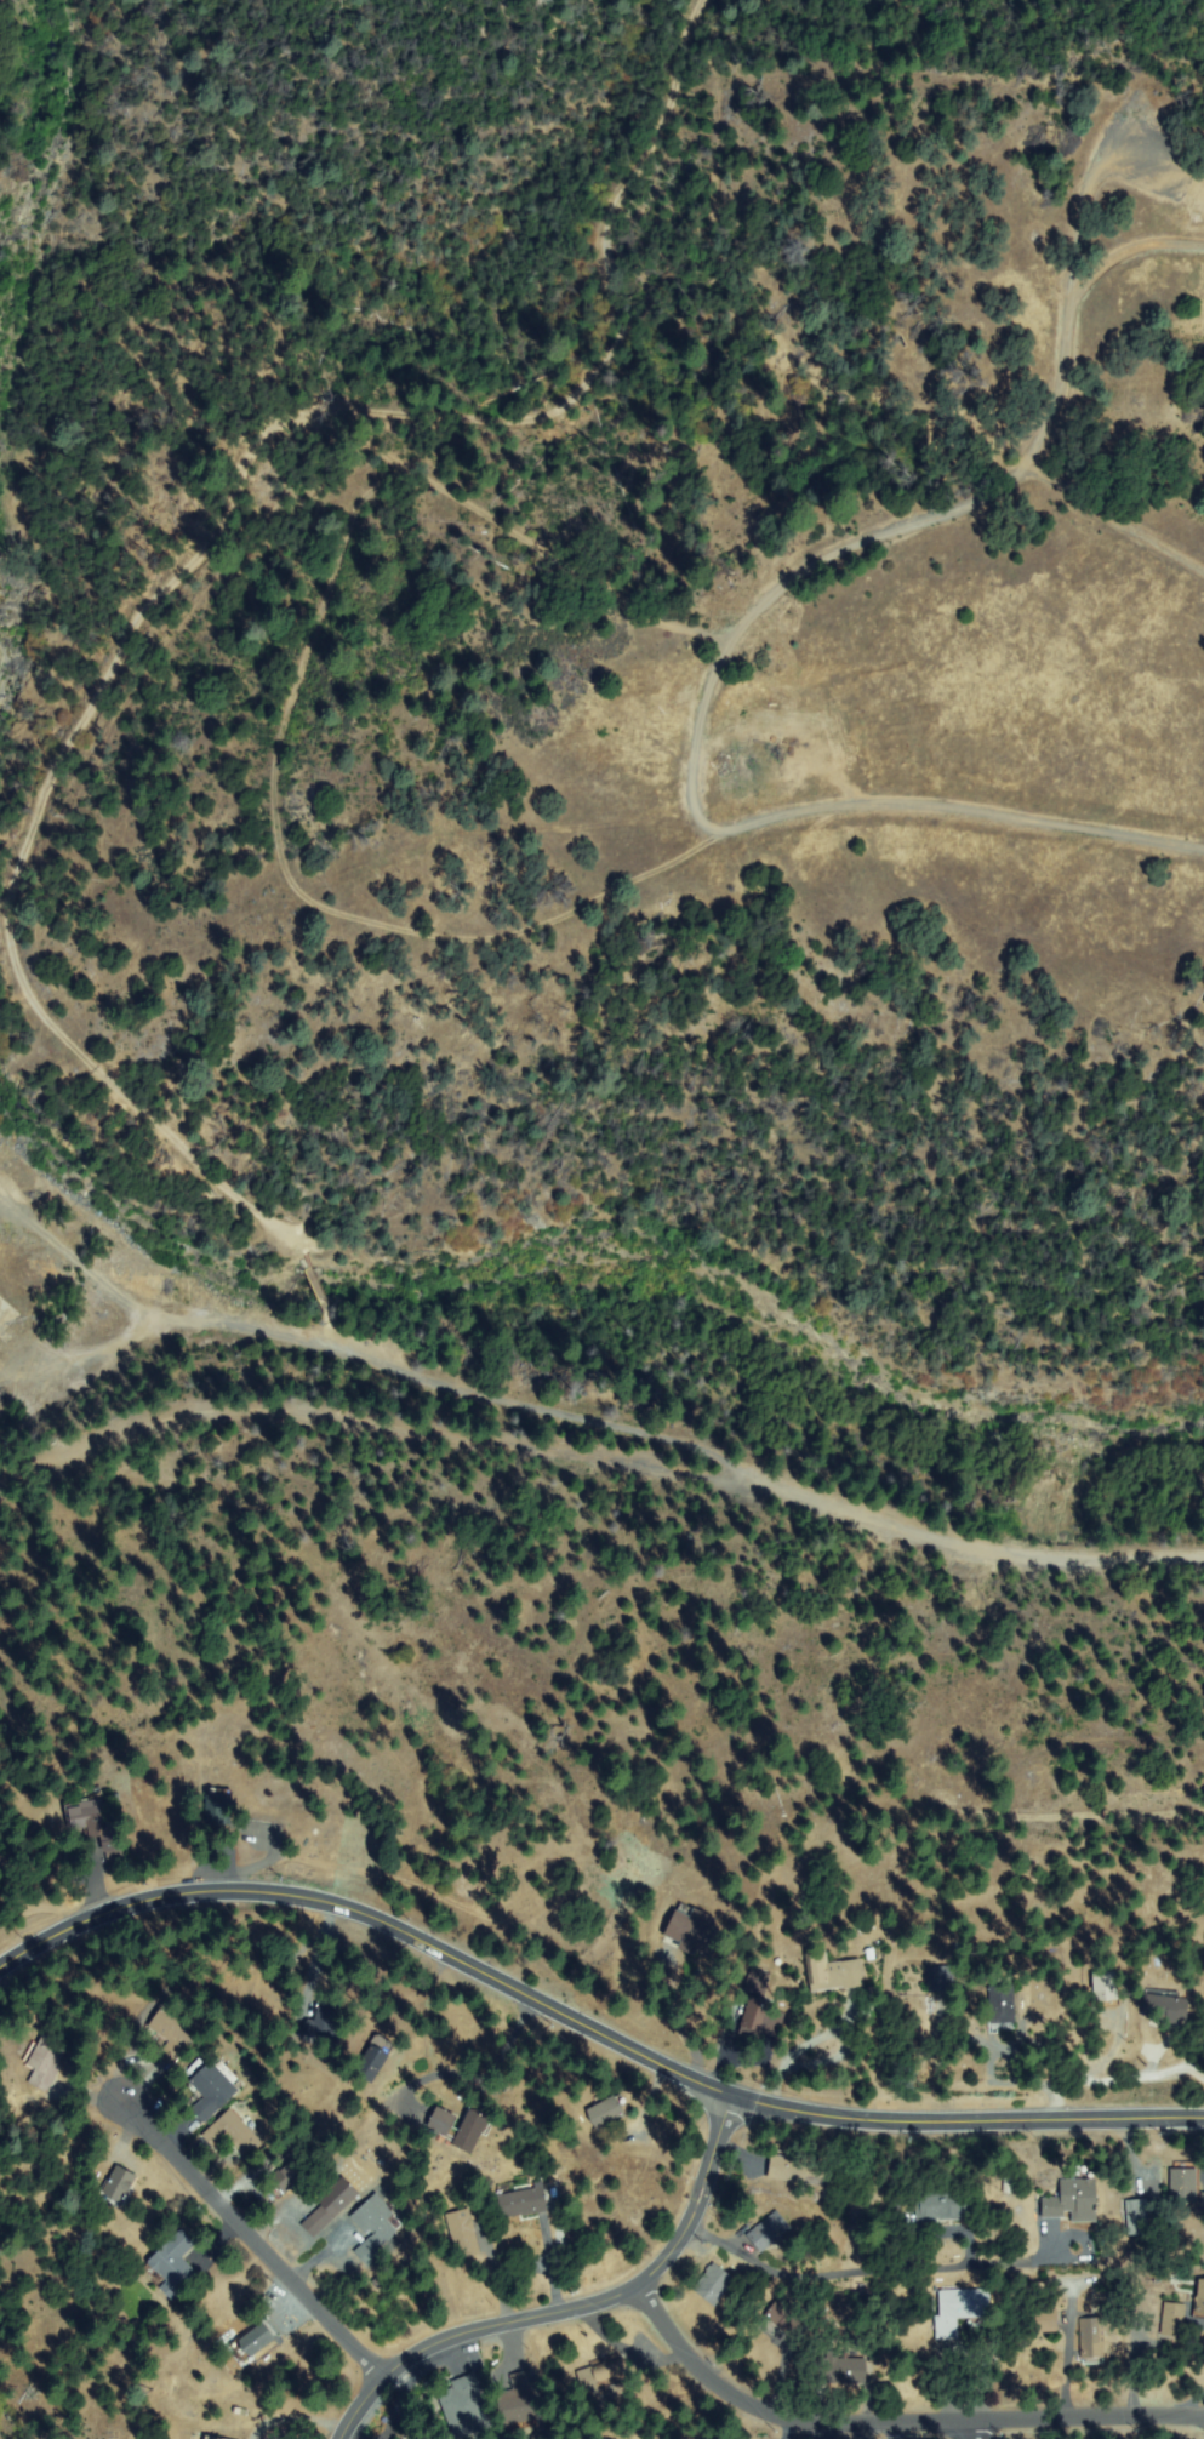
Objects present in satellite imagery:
road: (925, 522)
road: (213, 535)
road: (509, 935)
road: (318, 1291)
building: (4, 1320)
road: (593, 1415)
road: (600, 1452)
building: (219, 1806)
road: (1012, 1810)
building: (96, 1824)
building: (694, 1930)
building: (871, 1954)
building: (834, 1975)
building: (943, 1978)
building: (757, 1982)
building: (1106, 1988)
building: (1003, 2004)
building: (1163, 2006)
building: (759, 2018)
building: (325, 2022)
road: (587, 2027)
building: (172, 2034)
building: (375, 2058)
building: (45, 2061)
building: (212, 2090)
building: (607, 2112)
building: (443, 2121)
building: (472, 2130)
building: (230, 2132)
road: (737, 2153)
building: (798, 2167)
building: (289, 2176)
building: (1185, 2186)
building: (118, 2187)
building: (1074, 2200)
building: (1203, 2201)
building: (523, 2203)
building: (332, 2204)
building: (941, 2207)
building: (1139, 2220)
building: (375, 2228)
building: (769, 2232)
building: (463, 2235)
road: (253, 2239)
building: (172, 2267)
building: (715, 2284)
building: (1200, 2298)
building: (960, 2309)
road: (523, 2318)
building: (1174, 2318)
building: (786, 2319)
building: (1048, 2323)
building: (1092, 2338)
building: (253, 2342)
building: (841, 2369)
building: (599, 2375)
building: (518, 2401)
building: (466, 2409)
road: (896, 2422)
road: (971, 2431)
building: (210, 2438)
building: (212, 2438)

